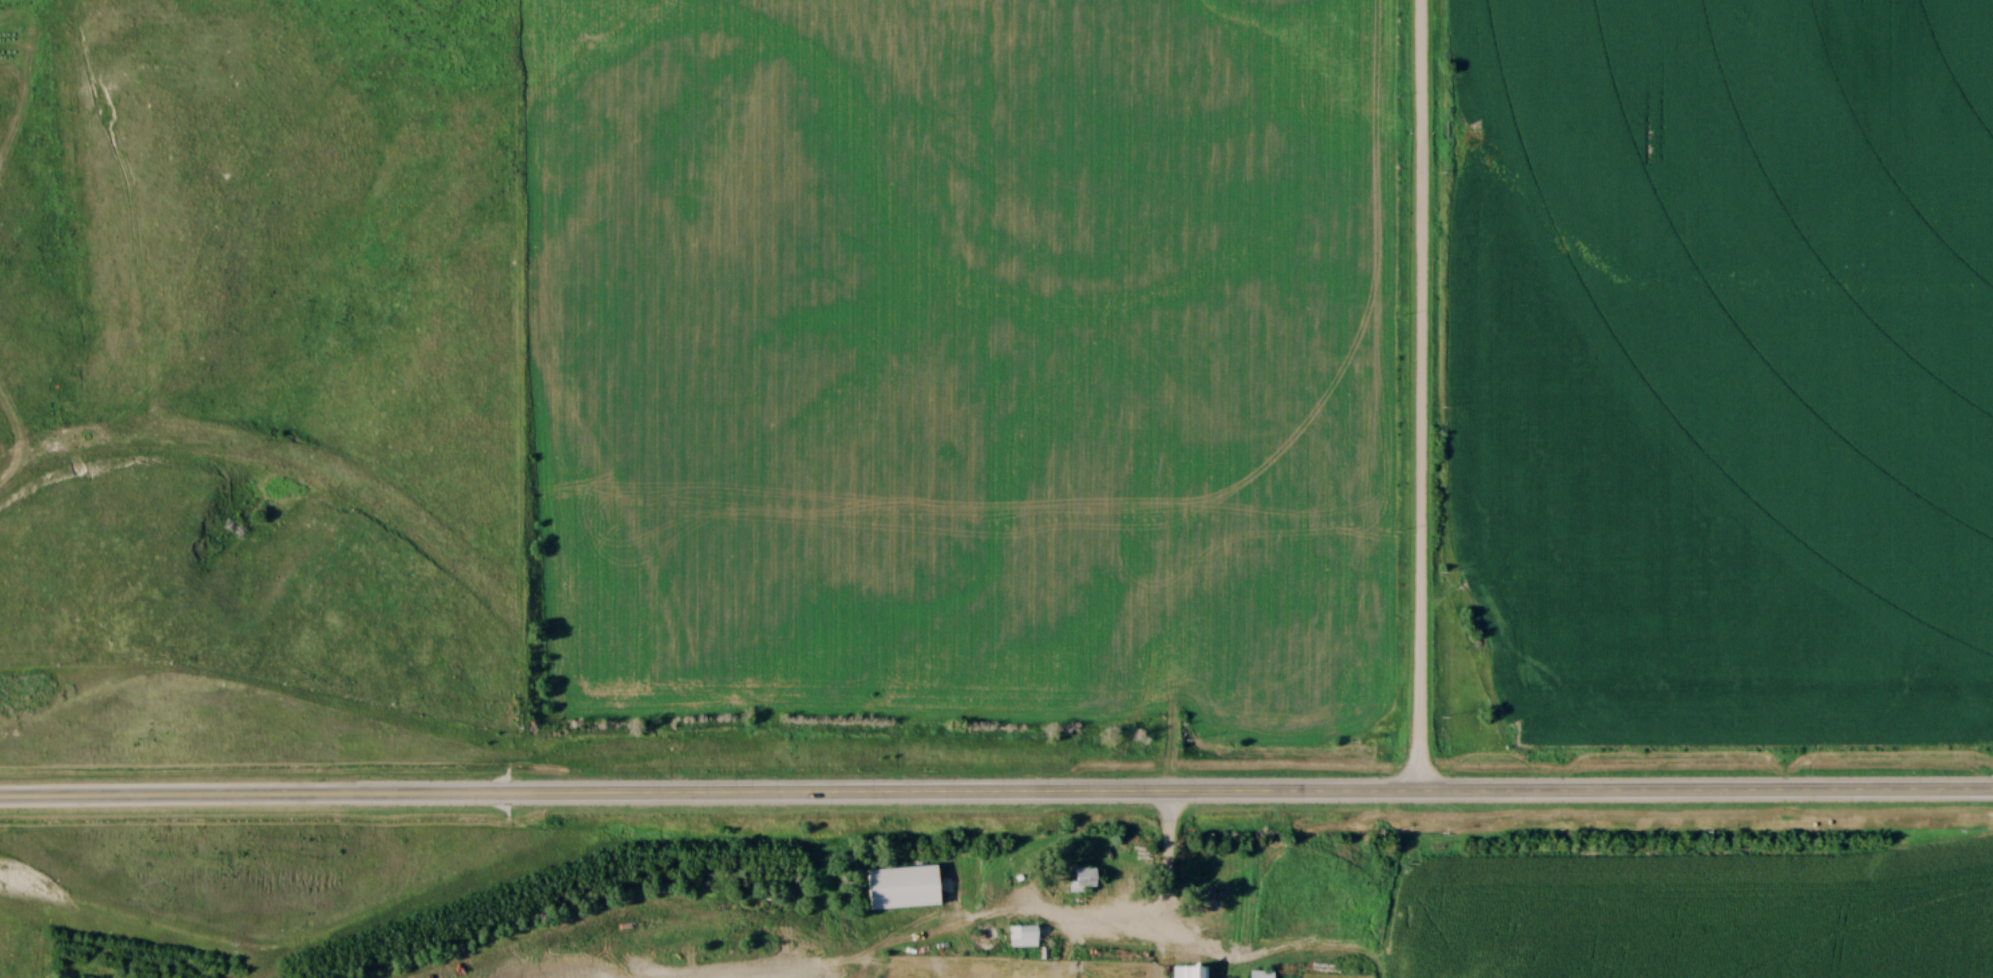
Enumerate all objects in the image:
road: (1420, 397)
road: (996, 798)
road: (1167, 864)
building: (1081, 879)
building: (904, 888)
building: (1023, 937)
building: (1190, 972)
building: (1261, 974)

